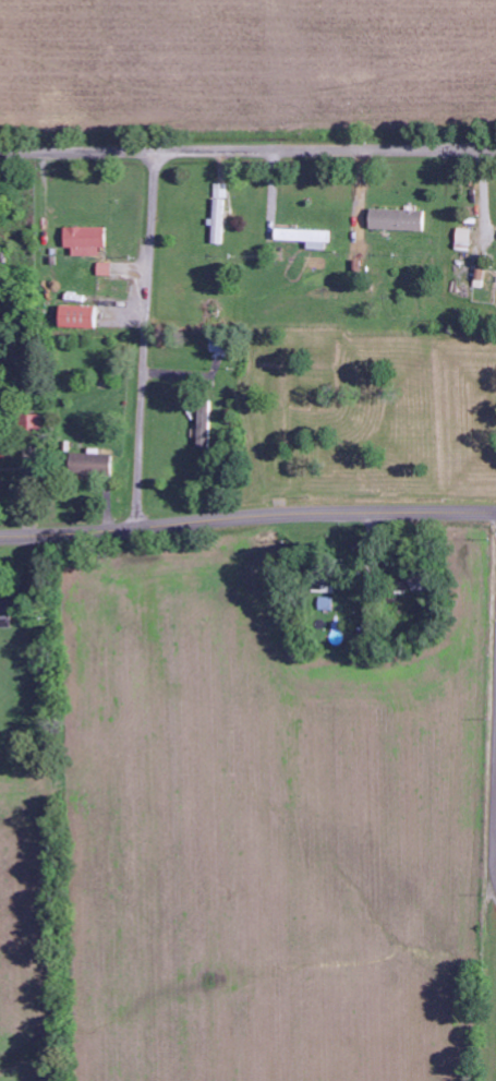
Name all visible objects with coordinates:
road: (247, 154)
building: (219, 213)
building: (397, 220)
building: (304, 238)
building: (463, 239)
building: (85, 241)
building: (77, 317)
road: (144, 340)
building: (218, 345)
building: (32, 423)
building: (204, 425)
building: (4, 448)
building: (90, 464)
road: (247, 516)
building: (5, 613)

